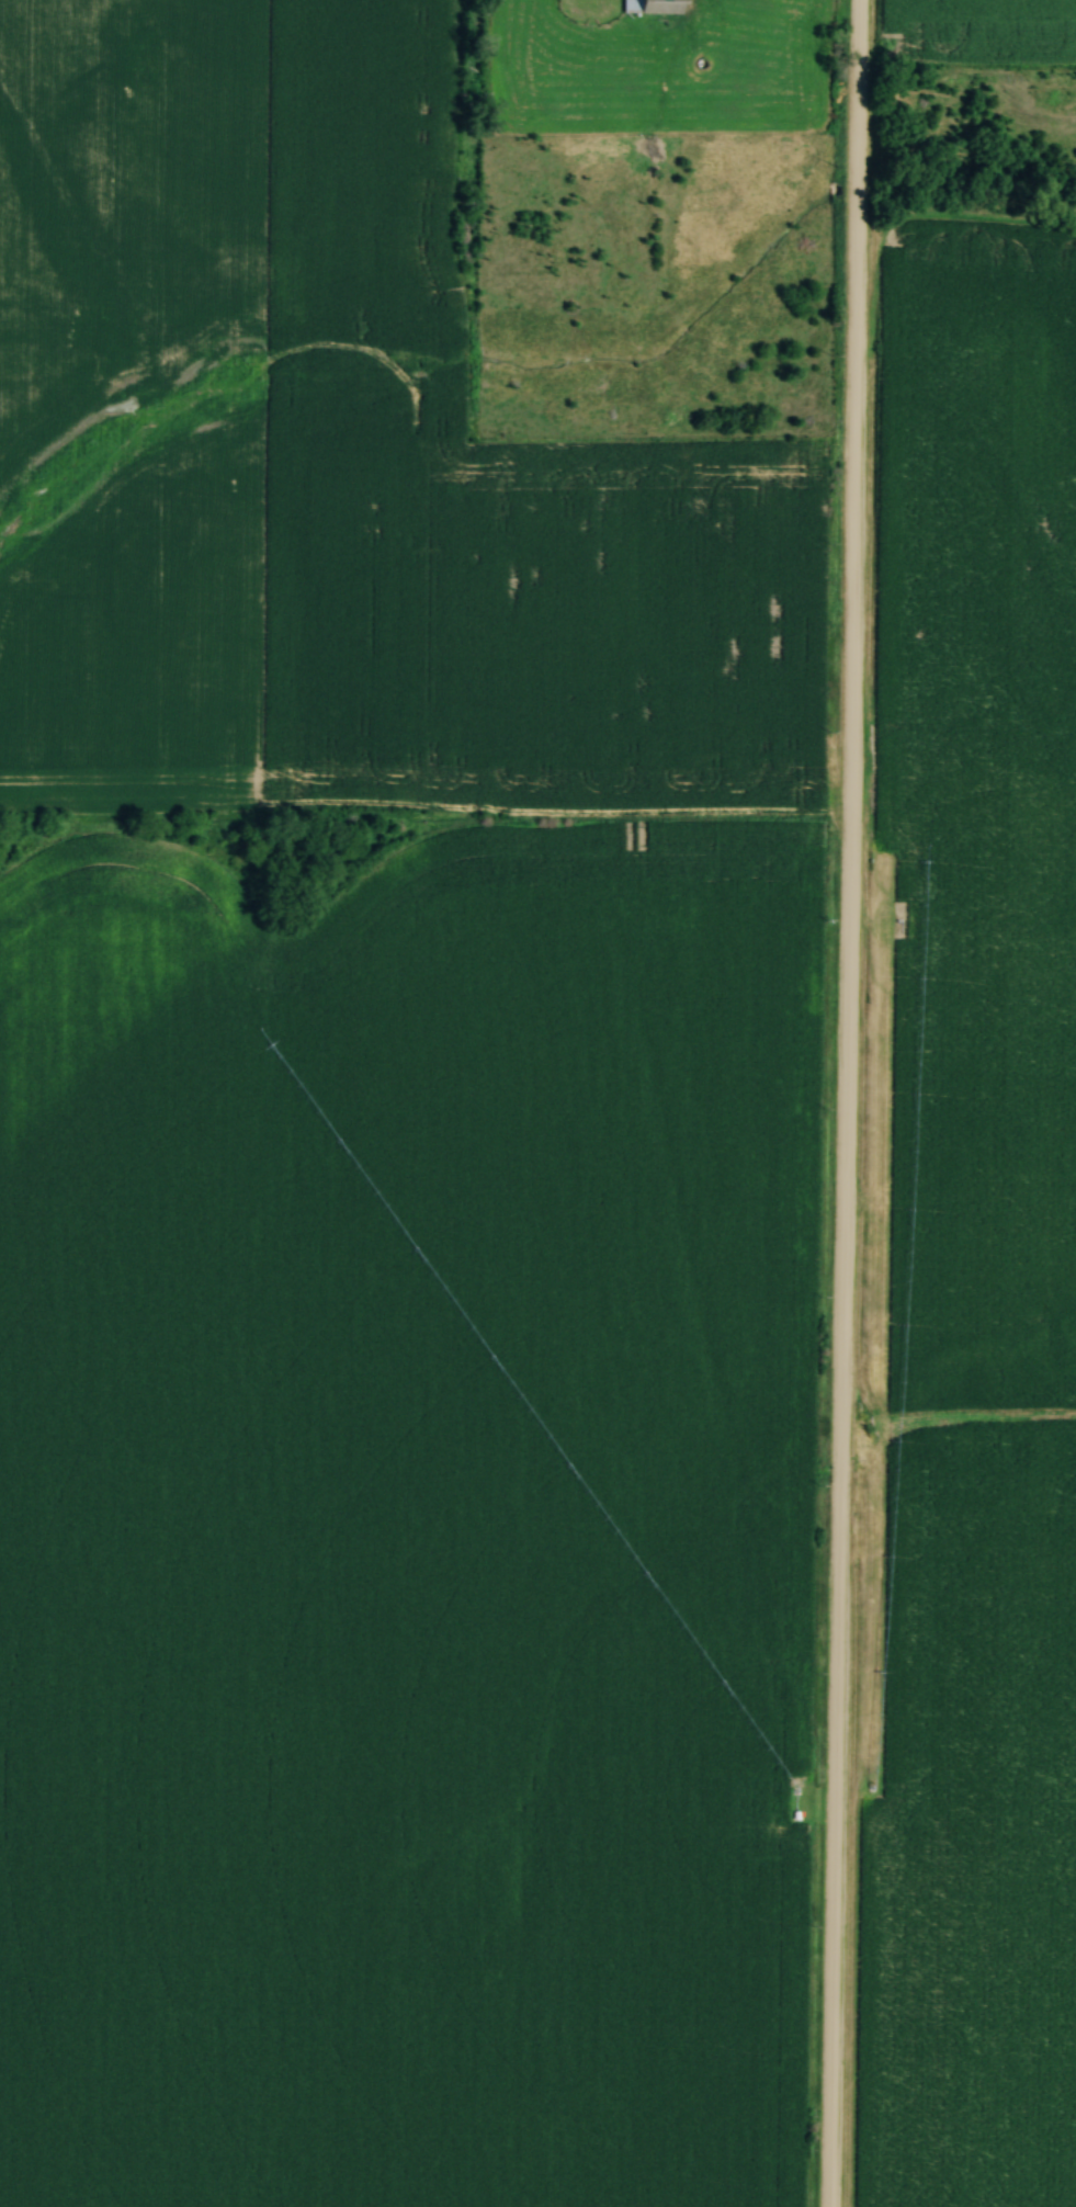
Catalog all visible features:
building: (654, 5)
road: (846, 1103)

